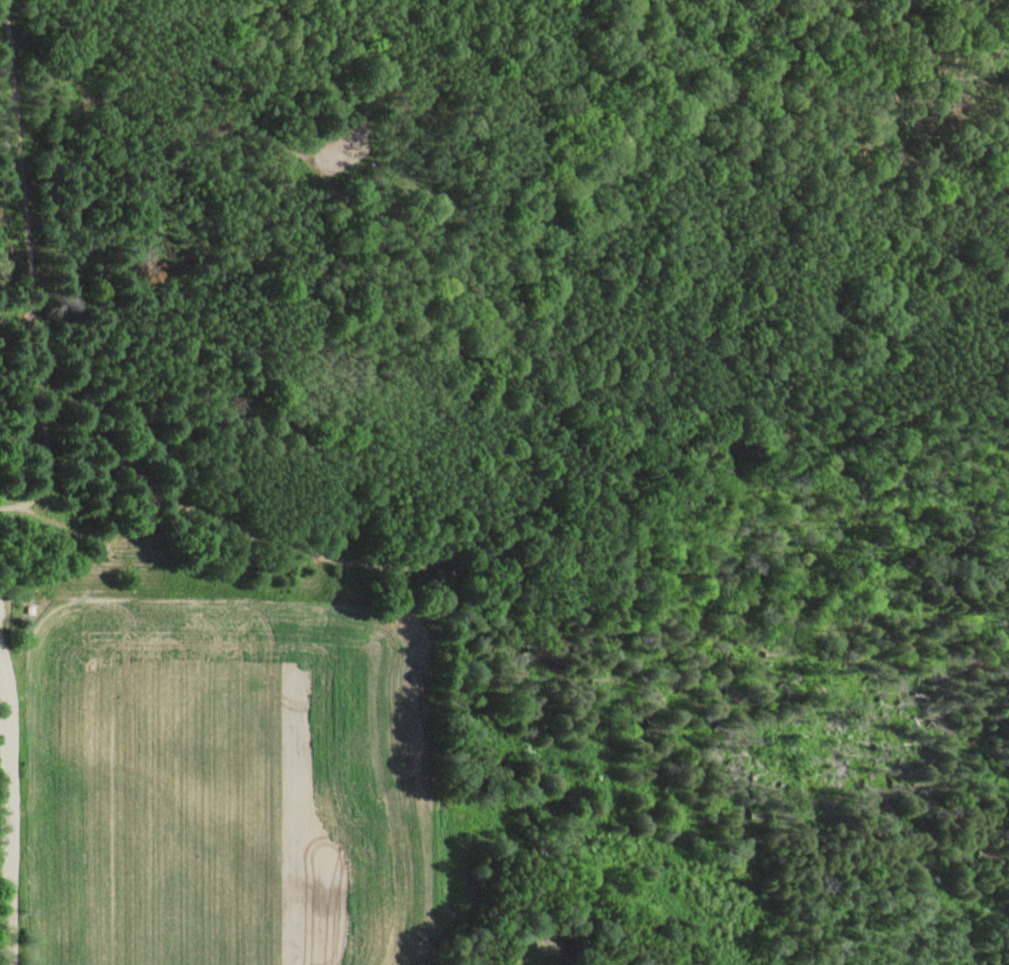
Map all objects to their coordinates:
road: (5, 668)
road: (11, 825)

